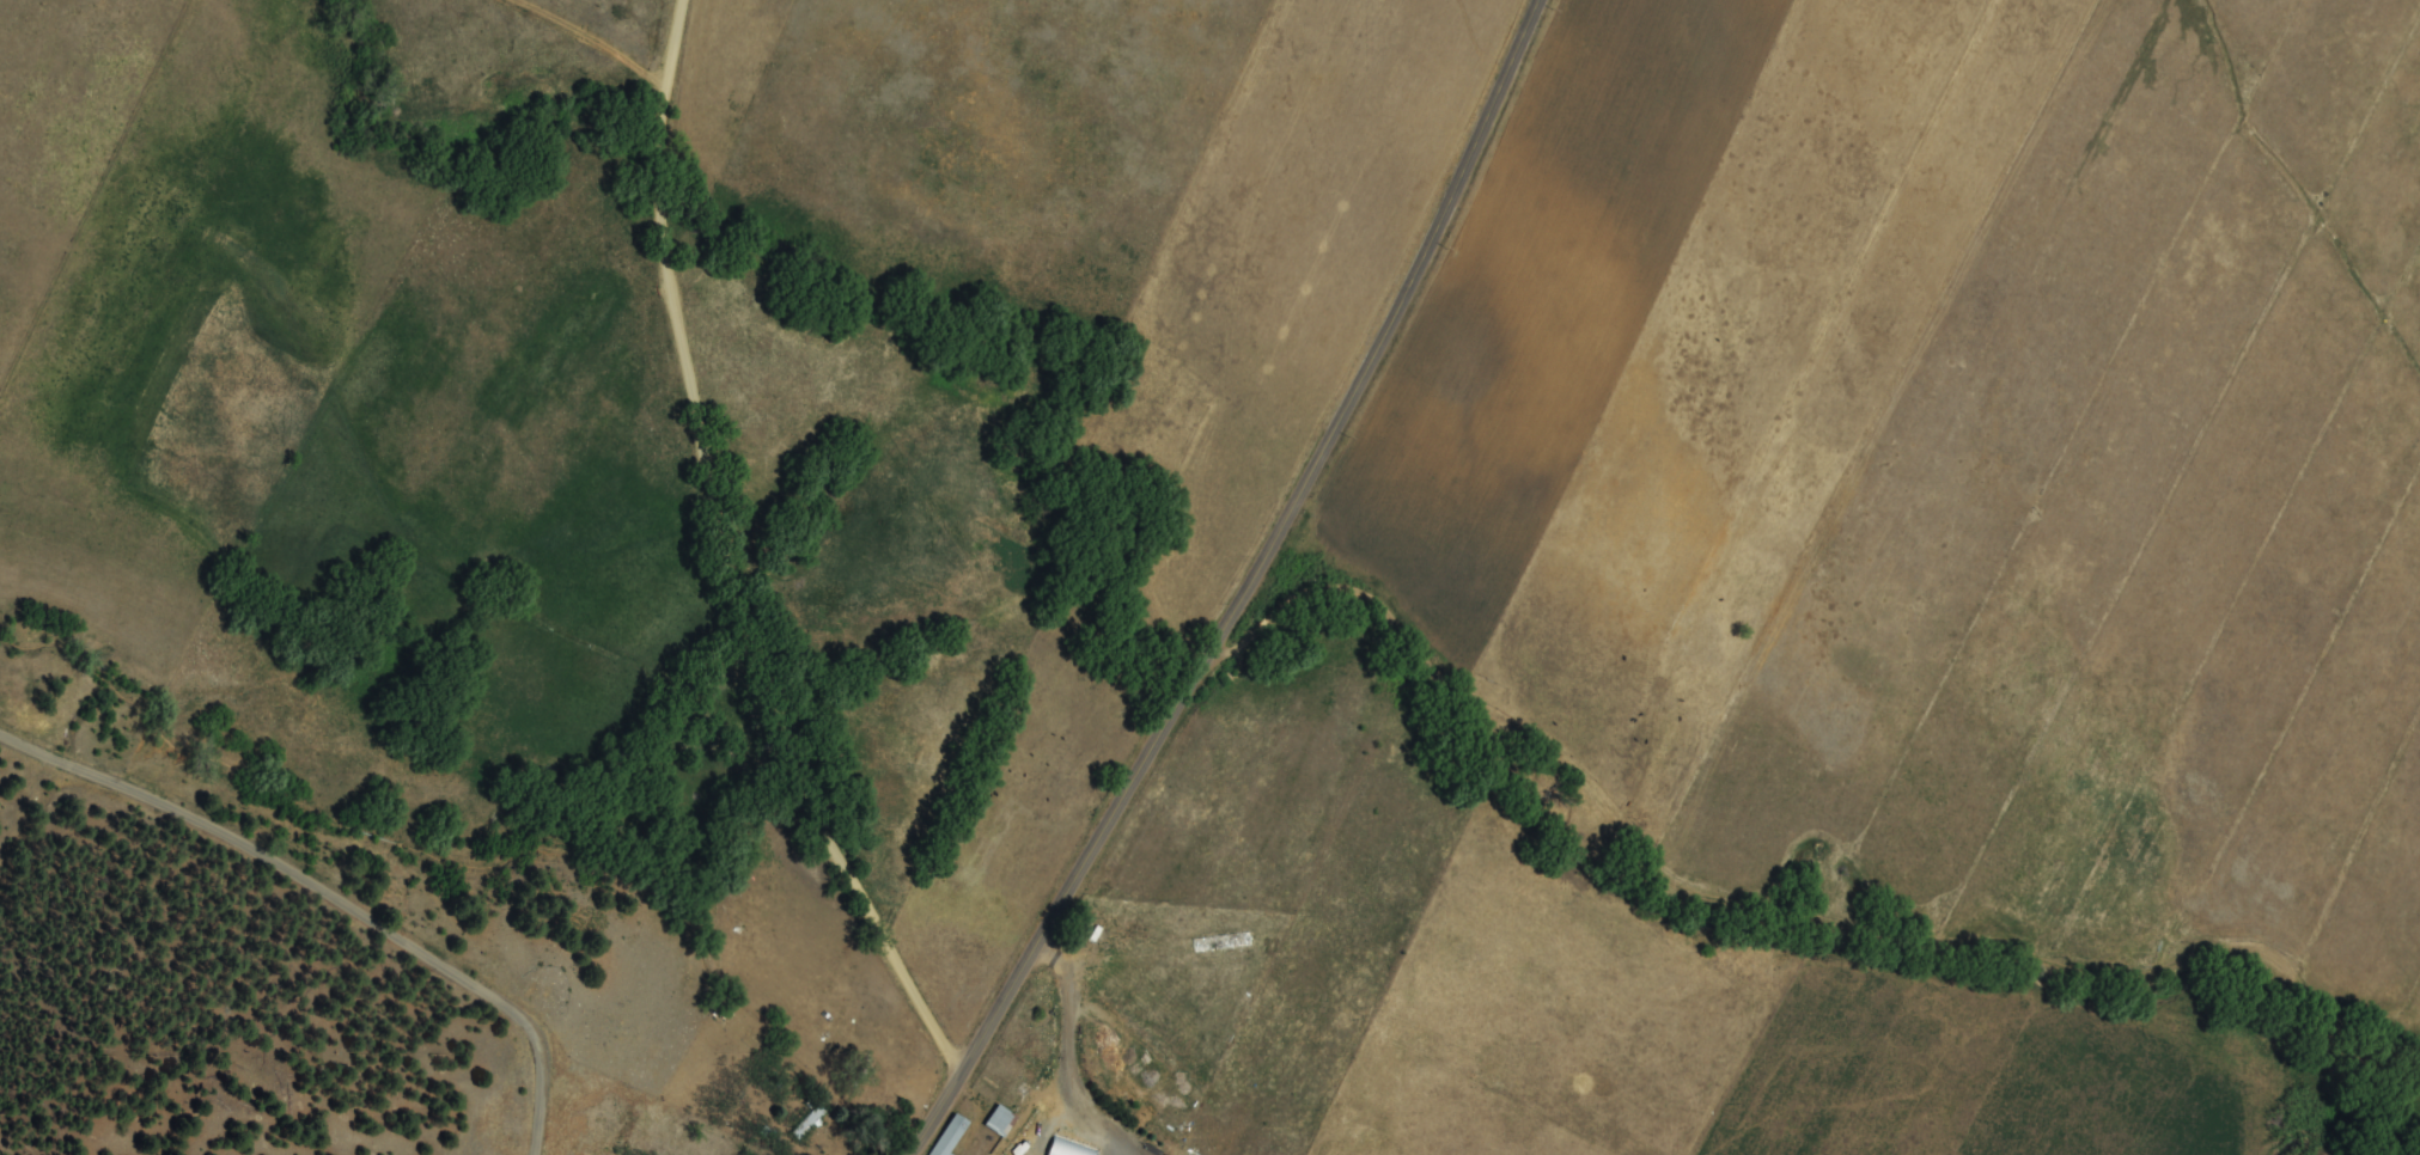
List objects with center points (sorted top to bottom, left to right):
road: (758, 554)
road: (1244, 589)
road: (330, 894)
building: (1002, 1120)
building: (810, 1123)
building: (955, 1136)
building: (1032, 1138)

